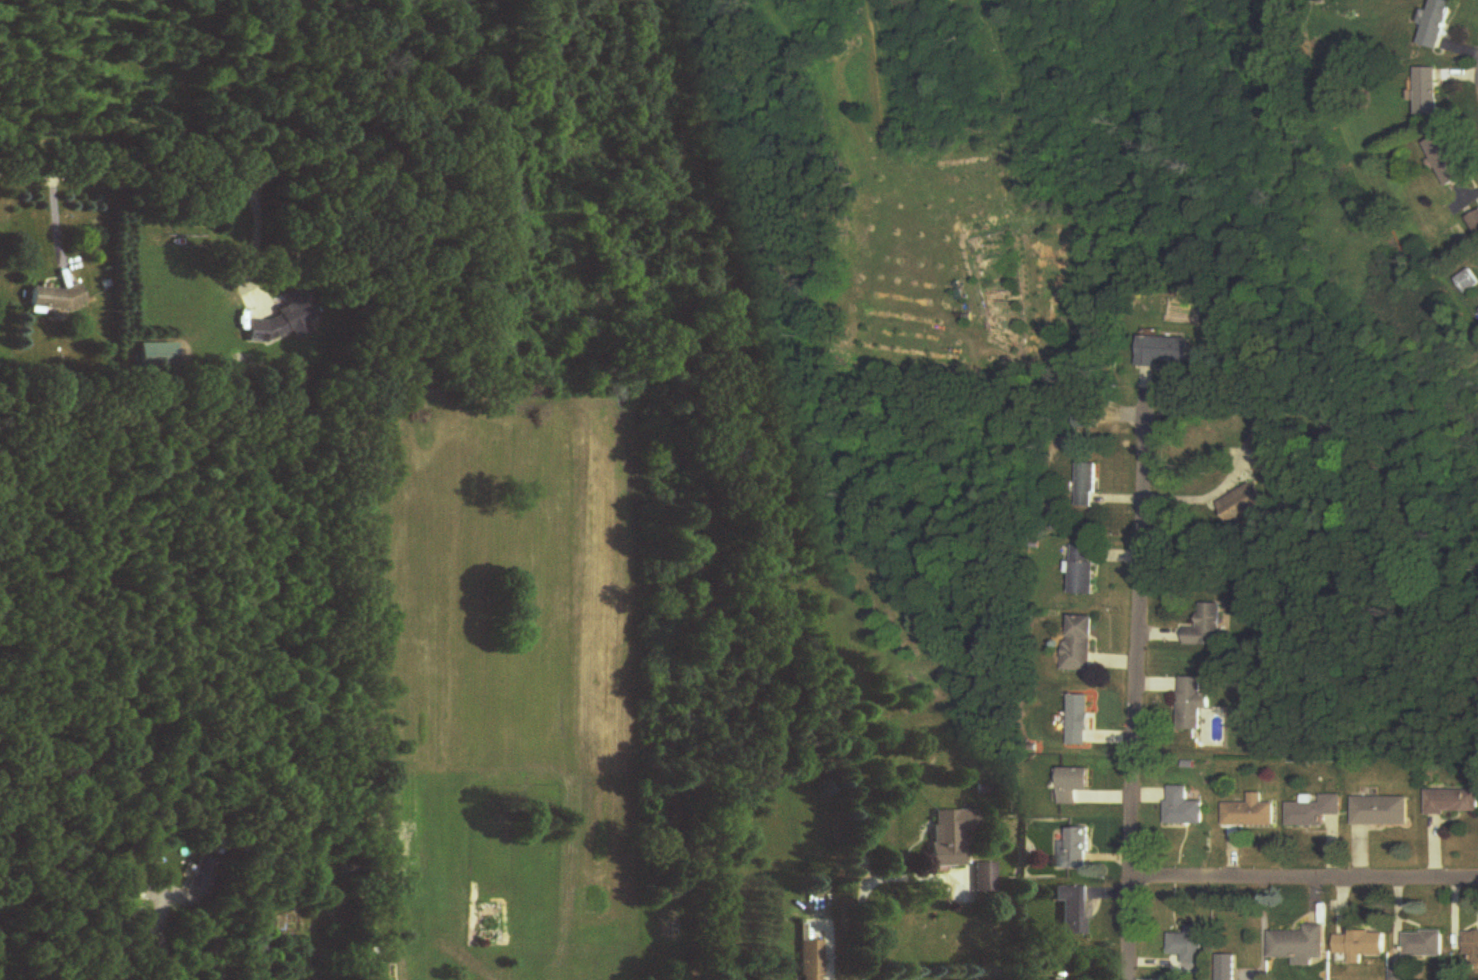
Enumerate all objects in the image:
building: (1436, 25)
building: (1425, 92)
building: (1445, 161)
road: (130, 177)
road: (55, 230)
road: (251, 241)
building: (1464, 281)
building: (995, 291)
building: (56, 299)
building: (1477, 310)
building: (287, 319)
building: (1165, 351)
building: (156, 356)
building: (1088, 486)
road: (1201, 500)
building: (1244, 505)
building: (1084, 572)
building: (1209, 629)
building: (1081, 645)
road: (1137, 689)
building: (1194, 704)
building: (1080, 721)
building: (1076, 786)
building: (1453, 802)
building: (1185, 808)
building: (1316, 811)
building: (1383, 811)
building: (1252, 813)
building: (951, 836)
building: (1080, 848)
building: (202, 876)
road: (1304, 876)
road: (861, 877)
building: (985, 877)
building: (1074, 909)
road: (161, 939)
building: (1301, 945)
building: (1363, 945)
building: (1426, 945)
building: (1190, 946)
building: (1473, 946)
building: (811, 960)
building: (1228, 967)

